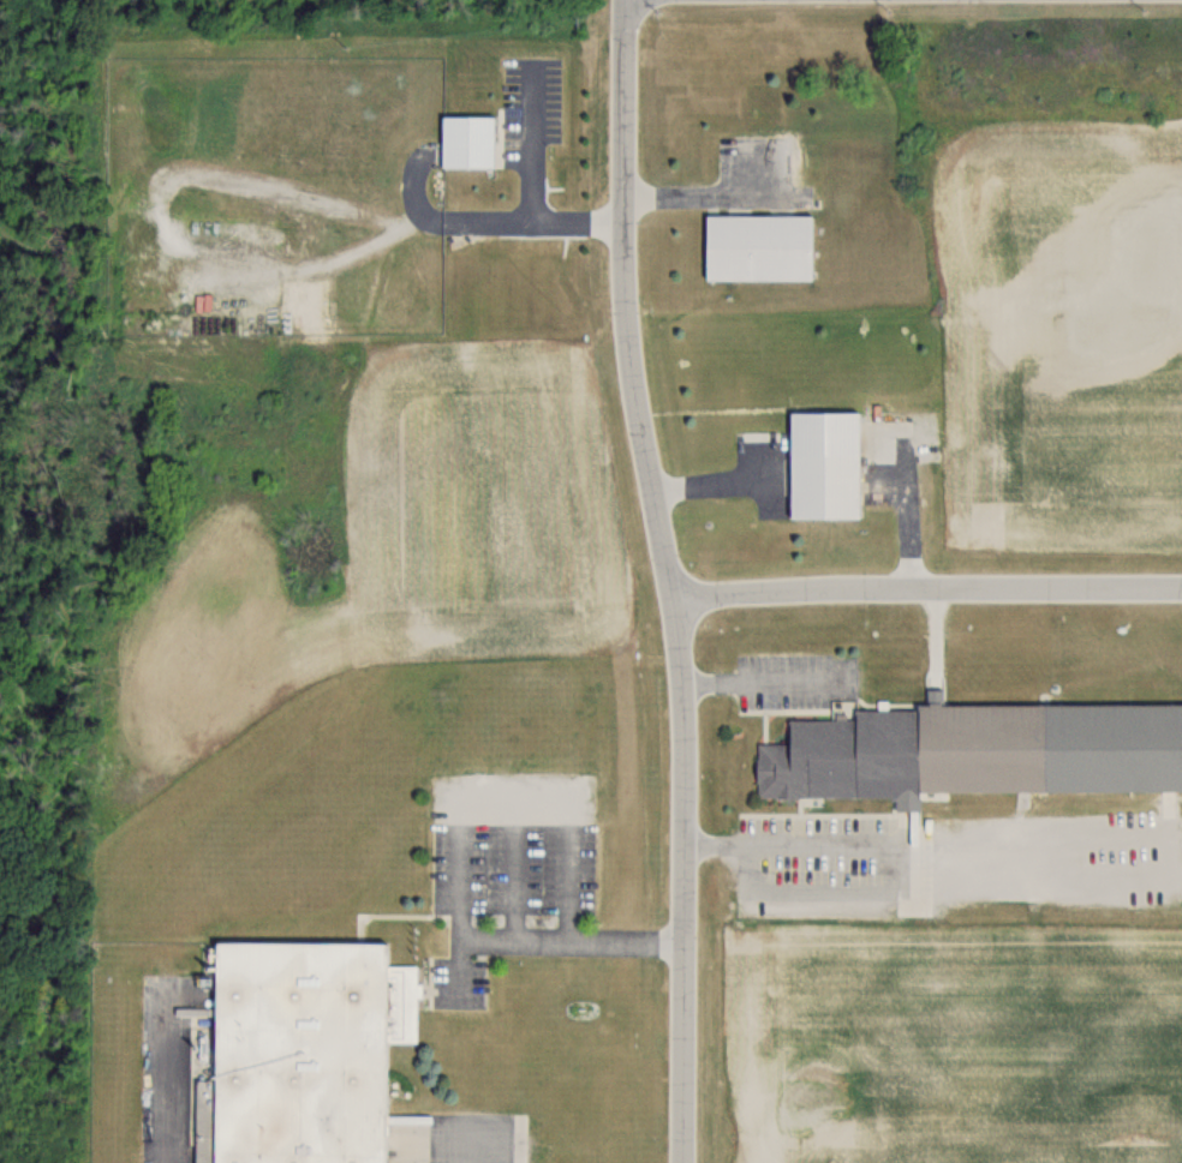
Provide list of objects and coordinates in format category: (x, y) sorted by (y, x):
road: (515, 138)
road: (704, 196)
road: (486, 210)
building: (757, 246)
building: (822, 464)
park: (60, 546)
road: (671, 580)
road: (929, 587)
road: (765, 682)
building: (906, 753)
road: (1151, 834)
road: (441, 835)
road: (30, 901)
building: (302, 1049)
road: (149, 1075)

